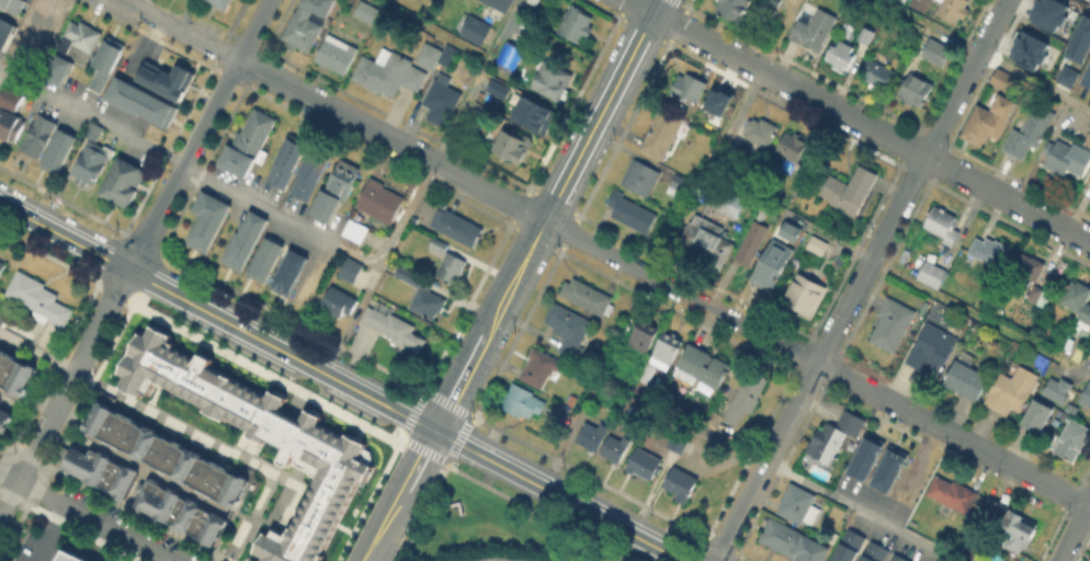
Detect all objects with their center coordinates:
building: (430, 0)
building: (899, 0)
building: (533, 1)
building: (775, 2)
building: (222, 3)
building: (13, 4)
building: (499, 4)
road: (129, 5)
building: (733, 8)
building: (953, 9)
building: (368, 11)
building: (42, 13)
building: (1052, 18)
building: (308, 23)
building: (577, 23)
road: (432, 28)
building: (814, 28)
building: (4, 30)
road: (253, 30)
building: (477, 30)
building: (866, 35)
road: (188, 36)
building: (79, 39)
building: (1079, 39)
building: (1027, 49)
building: (936, 51)
building: (842, 54)
building: (337, 55)
building: (439, 55)
building: (510, 57)
building: (106, 61)
building: (54, 66)
building: (388, 72)
building: (878, 73)
building: (1065, 76)
building: (1087, 78)
building: (169, 79)
building: (1002, 79)
building: (552, 80)
road: (1034, 80)
building: (691, 88)
building: (913, 90)
building: (497, 94)
building: (718, 100)
building: (442, 101)
building: (141, 102)
road: (603, 110)
building: (9, 112)
building: (529, 115)
road: (860, 122)
building: (981, 125)
building: (1030, 131)
building: (759, 133)
building: (661, 134)
building: (36, 135)
road: (391, 139)
building: (1088, 140)
building: (253, 141)
building: (514, 146)
road: (621, 146)
building: (795, 148)
building: (56, 150)
building: (730, 153)
building: (92, 157)
building: (1063, 159)
road: (182, 164)
building: (288, 164)
road: (190, 165)
building: (311, 174)
building: (641, 178)
building: (1089, 178)
building: (124, 182)
road: (421, 186)
building: (679, 186)
building: (336, 191)
building: (851, 193)
building: (382, 202)
building: (727, 202)
building: (632, 211)
building: (209, 218)
building: (943, 225)
building: (458, 226)
building: (786, 229)
building: (359, 231)
road: (64, 237)
building: (247, 238)
road: (668, 242)
building: (705, 242)
building: (816, 244)
building: (749, 248)
building: (990, 250)
building: (268, 256)
building: (2, 265)
building: (775, 265)
building: (452, 268)
building: (352, 270)
building: (286, 271)
building: (1029, 271)
building: (933, 274)
road: (515, 276)
road: (896, 276)
road: (859, 279)
road: (680, 290)
building: (423, 294)
building: (804, 295)
building: (588, 296)
building: (1041, 297)
building: (39, 299)
building: (339, 302)
building: (1078, 302)
building: (893, 324)
building: (394, 328)
building: (568, 329)
building: (645, 336)
building: (668, 350)
building: (932, 350)
road: (281, 351)
road: (37, 352)
building: (1089, 358)
building: (702, 366)
building: (541, 368)
building: (644, 370)
building: (967, 379)
road: (461, 381)
building: (12, 382)
building: (1056, 388)
building: (1012, 390)
road: (64, 392)
building: (747, 397)
building: (1087, 397)
building: (524, 402)
building: (1068, 408)
building: (1034, 414)
traffic signals: (435, 432)
building: (259, 433)
road: (952, 434)
building: (592, 436)
building: (834, 437)
building: (1069, 439)
building: (679, 443)
building: (615, 448)
road: (217, 449)
road: (453, 454)
building: (863, 455)
road: (436, 456)
building: (644, 465)
road: (777, 467)
building: (887, 468)
building: (157, 473)
building: (683, 484)
building: (953, 493)
road: (558, 495)
road: (399, 496)
building: (799, 504)
road: (1089, 506)
road: (421, 512)
building: (991, 512)
road: (84, 515)
road: (68, 525)
road: (1075, 531)
building: (1018, 533)
road: (54, 534)
building: (788, 539)
building: (849, 547)
building: (876, 552)
building: (71, 556)
building: (1089, 558)
building: (900, 559)

